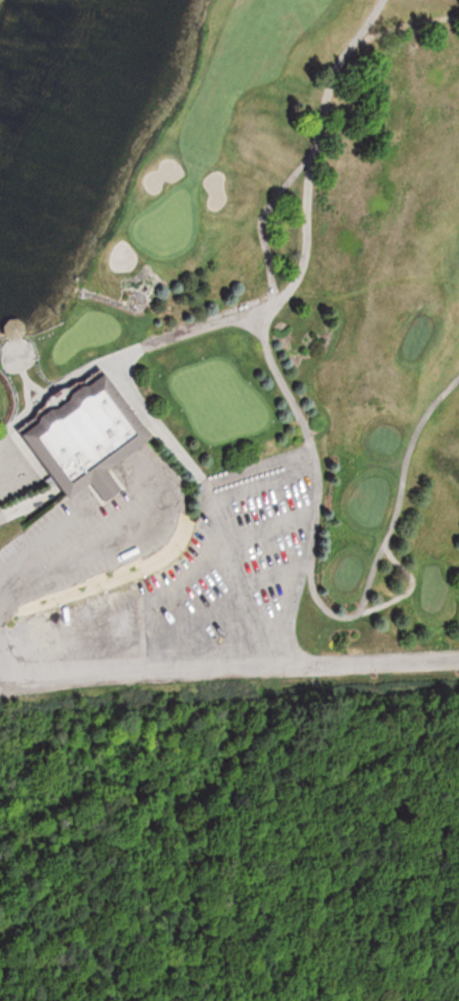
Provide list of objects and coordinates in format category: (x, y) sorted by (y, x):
park: (166, 224)
road: (305, 228)
building: (17, 329)
park: (228, 345)
building: (86, 434)
road: (9, 471)
road: (386, 532)
road: (259, 616)
road: (18, 650)
road: (381, 662)
road: (152, 681)
park: (232, 845)

